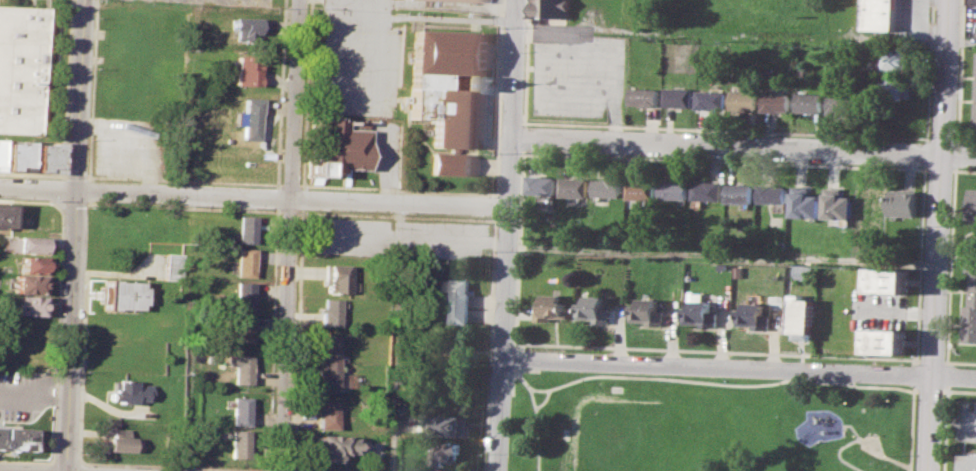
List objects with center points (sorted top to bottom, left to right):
parking lot: (232, 1)
building: (457, 1)
building: (971, 1)
parking lot: (0, 2)
building: (551, 9)
building: (878, 14)
road: (447, 17)
parking lot: (910, 23)
building: (247, 28)
road: (598, 31)
parking lot: (359, 58)
building: (889, 58)
building: (703, 63)
building: (21, 68)
building: (247, 70)
road: (927, 70)
road: (958, 71)
building: (896, 87)
road: (92, 88)
road: (66, 89)
road: (360, 92)
road: (281, 93)
road: (307, 93)
building: (451, 94)
building: (676, 96)
road: (498, 97)
building: (644, 97)
building: (709, 99)
building: (742, 99)
building: (975, 100)
building: (774, 102)
building: (807, 102)
building: (842, 105)
building: (249, 112)
road: (522, 123)
road: (664, 127)
road: (522, 137)
road: (939, 138)
road: (963, 140)
parking lot: (384, 144)
building: (338, 147)
road: (743, 147)
building: (0, 152)
road: (924, 152)
building: (18, 154)
road: (955, 154)
building: (48, 156)
road: (724, 160)
road: (389, 167)
road: (939, 169)
road: (952, 169)
road: (965, 170)
road: (33, 174)
road: (76, 176)
road: (184, 180)
road: (291, 184)
building: (541, 184)
building: (574, 186)
building: (607, 188)
road: (397, 189)
building: (640, 190)
building: (672, 190)
road: (60, 191)
building: (705, 191)
building: (739, 193)
building: (771, 193)
building: (869, 196)
road: (253, 197)
road: (278, 197)
road: (303, 197)
building: (803, 202)
road: (73, 204)
building: (835, 204)
building: (902, 204)
building: (973, 205)
road: (58, 206)
road: (184, 206)
road: (495, 206)
road: (290, 211)
building: (4, 214)
road: (396, 215)
building: (246, 229)
road: (75, 235)
road: (290, 235)
road: (506, 235)
road: (939, 235)
building: (25, 244)
building: (779, 245)
road: (721, 255)
building: (244, 261)
building: (33, 264)
road: (919, 264)
road: (950, 265)
building: (172, 266)
building: (736, 271)
building: (801, 271)
road: (123, 273)
building: (336, 277)
building: (888, 279)
building: (29, 283)
building: (121, 294)
building: (243, 296)
building: (971, 298)
building: (460, 299)
building: (26, 304)
road: (58, 304)
building: (551, 307)
building: (594, 309)
building: (330, 311)
building: (647, 312)
building: (700, 314)
building: (752, 316)
building: (801, 316)
building: (242, 328)
road: (393, 337)
road: (272, 339)
road: (297, 339)
building: (886, 341)
road: (489, 343)
road: (516, 347)
road: (620, 347)
road: (515, 359)
road: (931, 359)
building: (327, 360)
road: (945, 361)
road: (961, 361)
road: (82, 365)
road: (738, 367)
building: (241, 368)
road: (947, 374)
road: (917, 375)
road: (665, 379)
road: (858, 386)
road: (539, 389)
road: (962, 390)
building: (126, 392)
road: (35, 393)
parking lot: (22, 394)
building: (239, 410)
building: (325, 414)
road: (536, 416)
parking lot: (965, 420)
road: (969, 421)
park: (706, 424)
building: (449, 425)
road: (946, 428)
road: (854, 429)
road: (916, 430)
park: (618, 434)
building: (14, 439)
building: (117, 440)
building: (238, 443)
building: (327, 444)
building: (449, 452)
road: (886, 455)
road: (842, 456)
road: (27, 461)
road: (66, 461)
building: (968, 462)
road: (77, 466)
road: (173, 466)
road: (51, 467)
road: (914, 469)
road: (275, 470)

